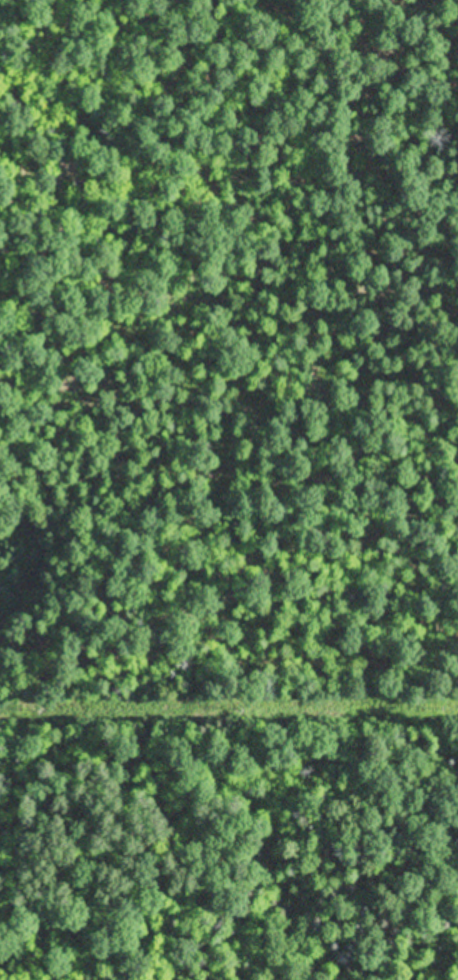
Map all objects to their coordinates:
road: (228, 702)

